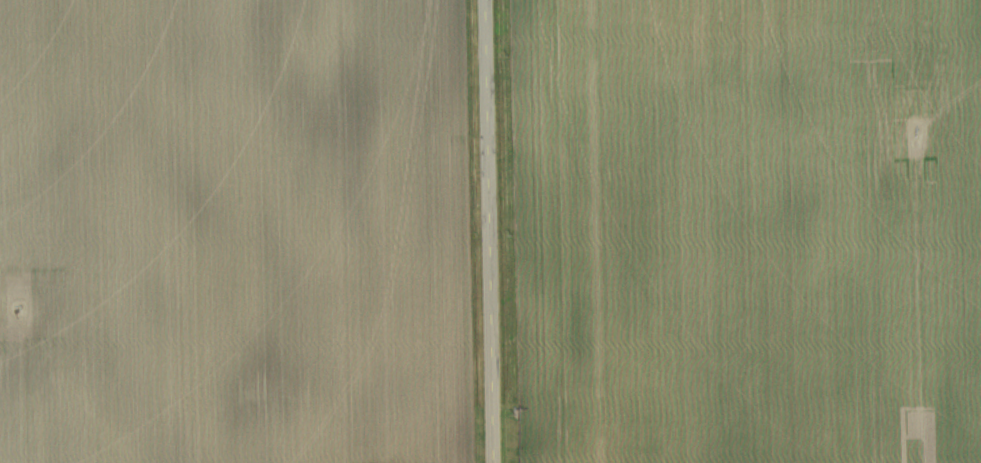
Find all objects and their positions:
crop: (743, 230)
crop: (232, 231)
road: (489, 231)

